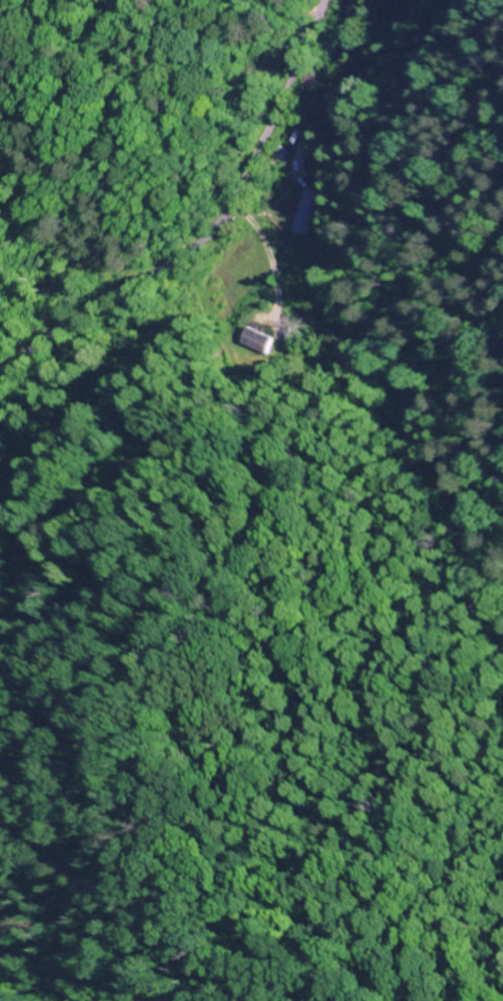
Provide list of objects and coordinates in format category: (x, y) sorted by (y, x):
building: (402, 0)
building: (300, 213)
road: (213, 233)
road: (275, 233)

